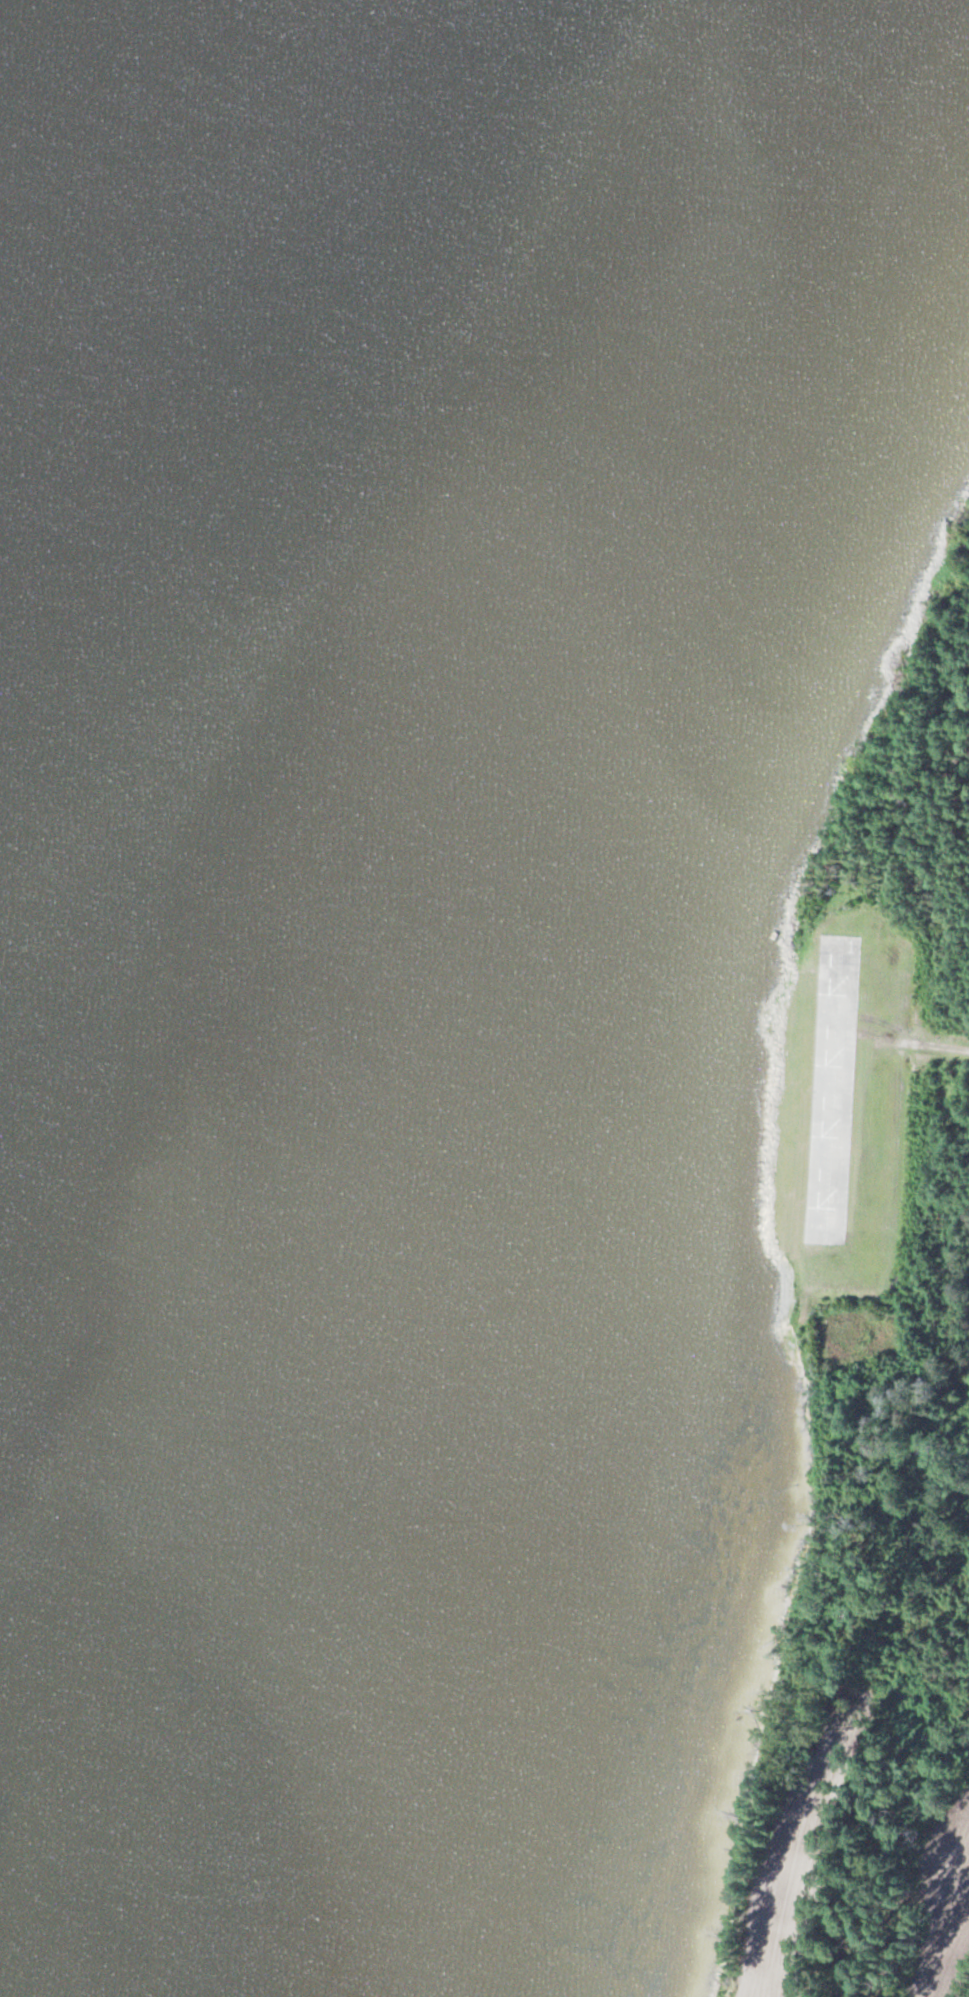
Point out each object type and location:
building: (830, 1127)

